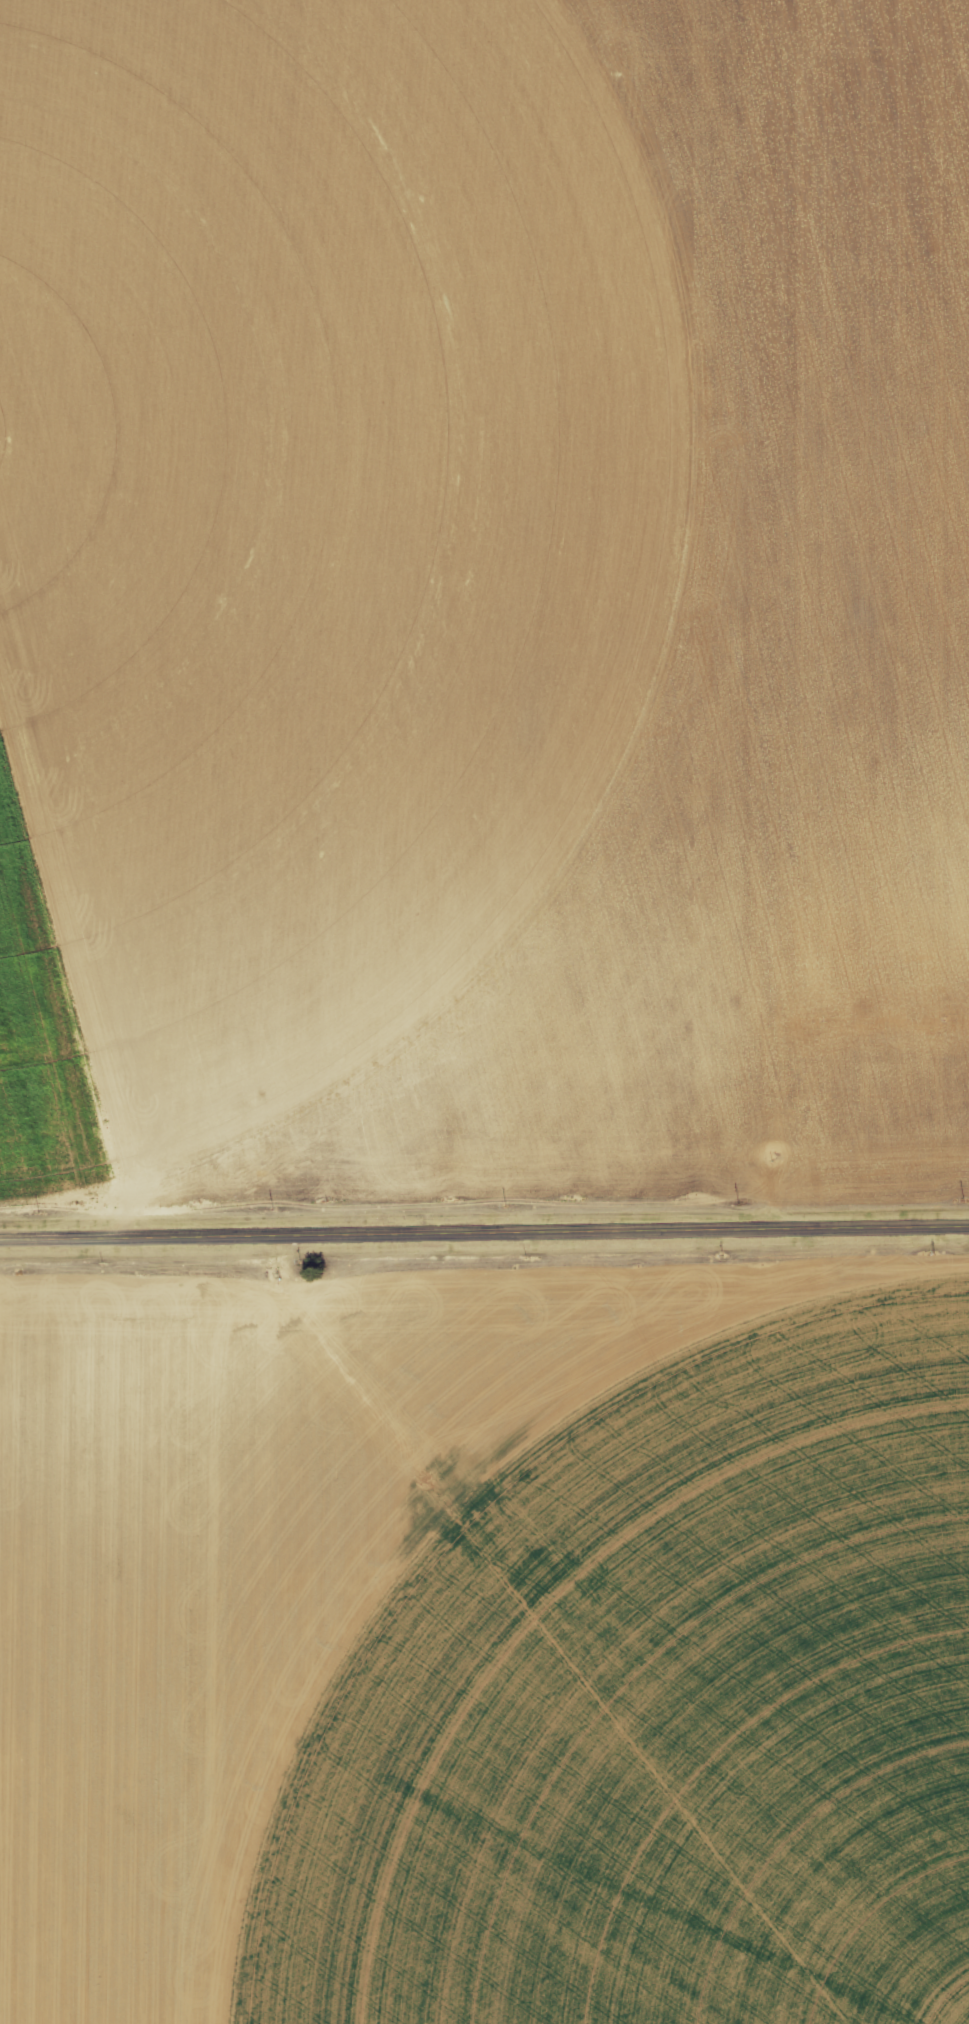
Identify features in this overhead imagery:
road: (484, 1237)

